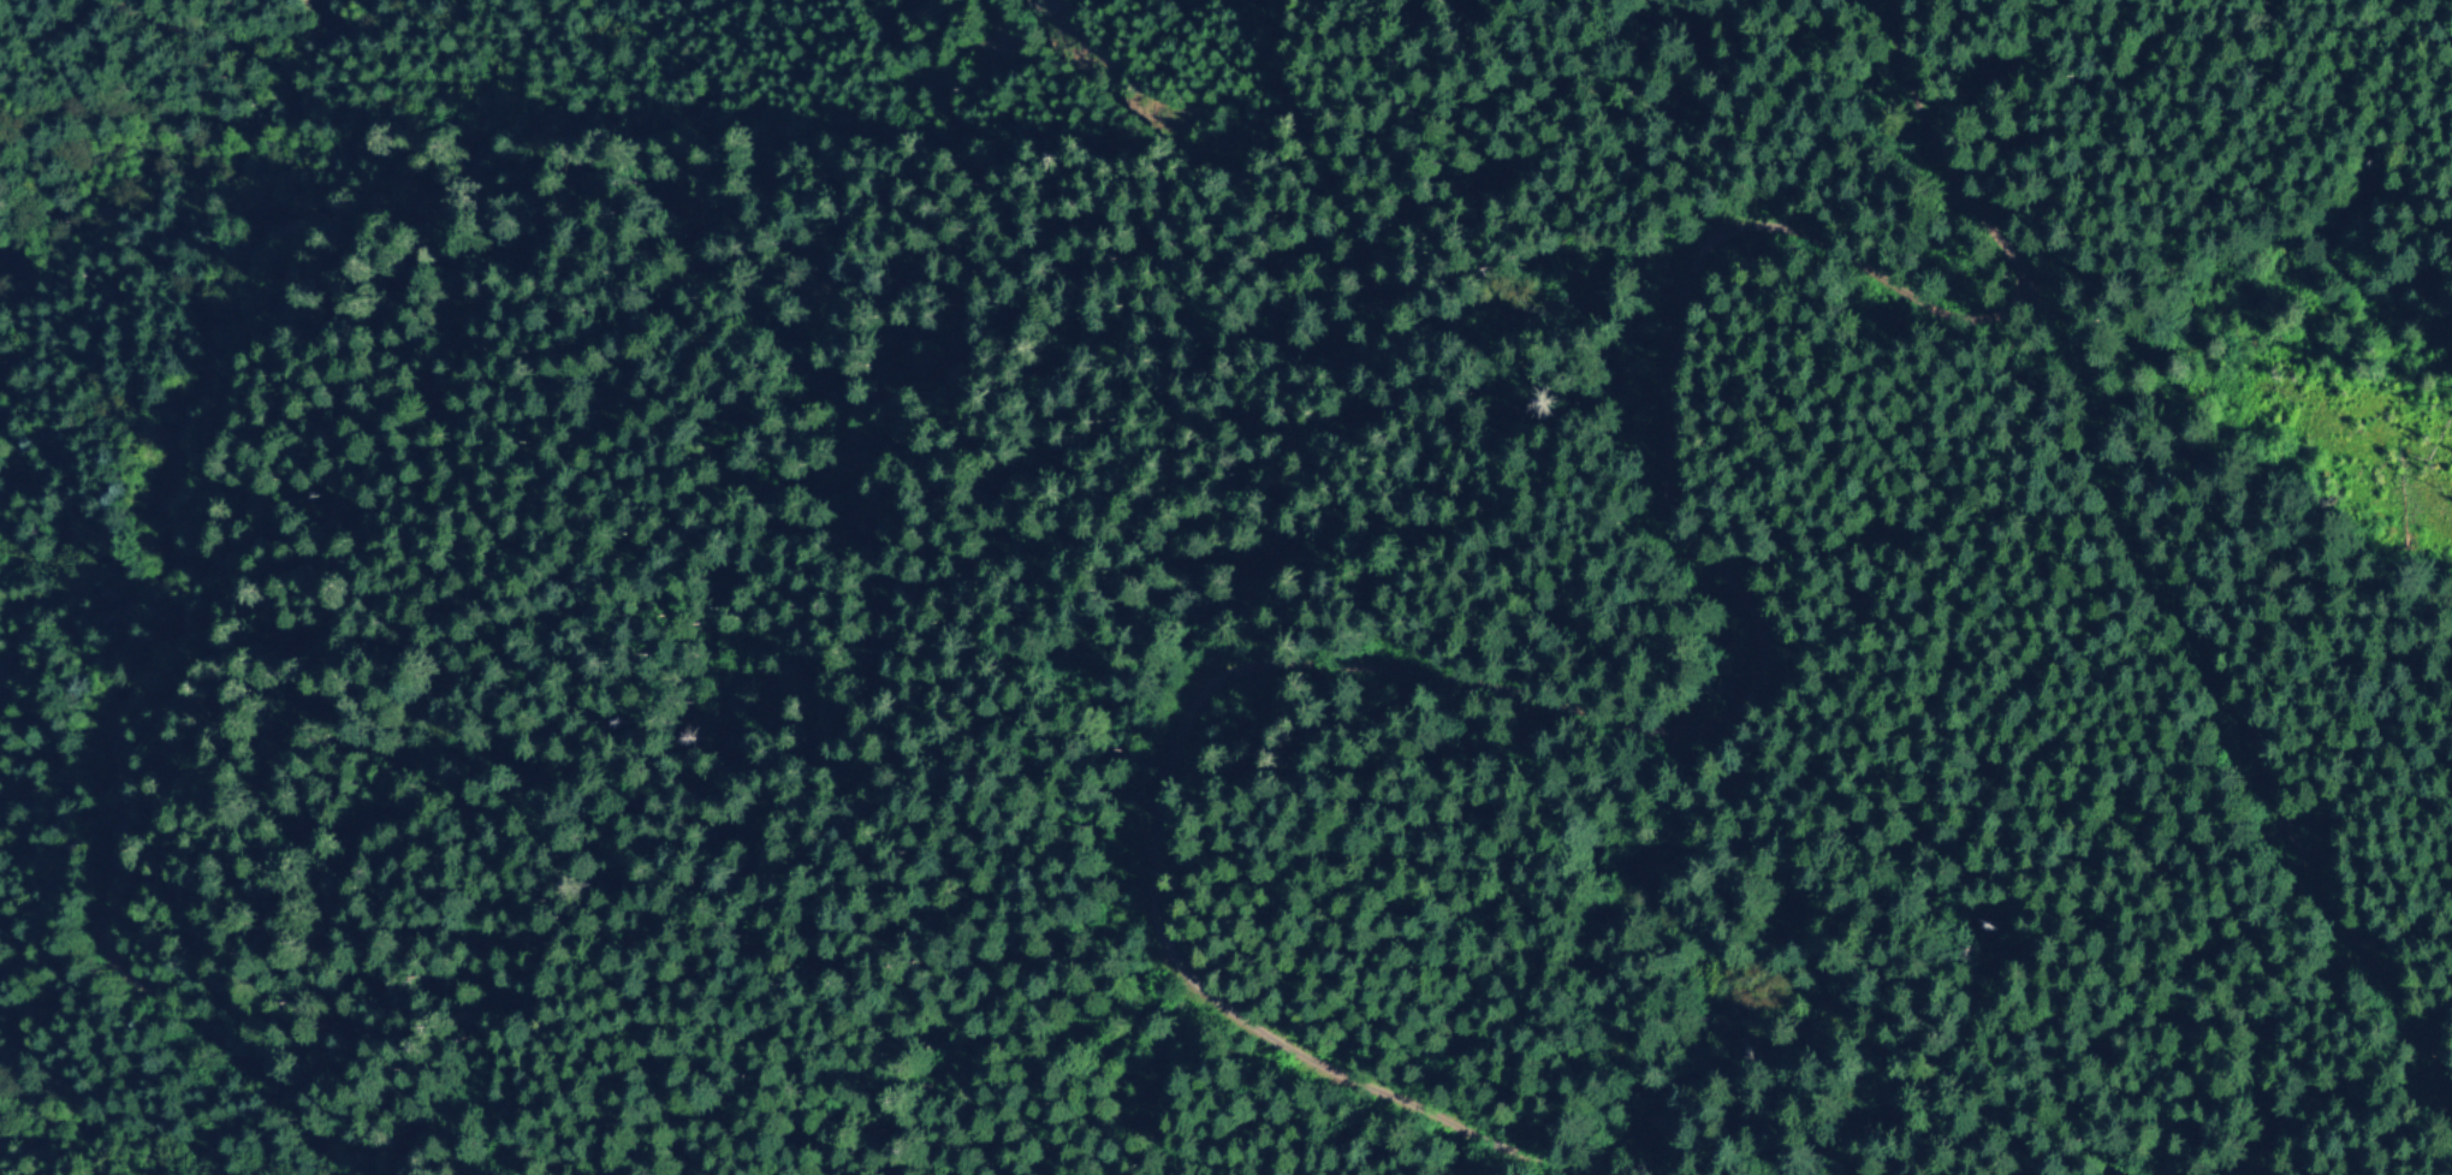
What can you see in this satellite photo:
road: (2055, 440)

